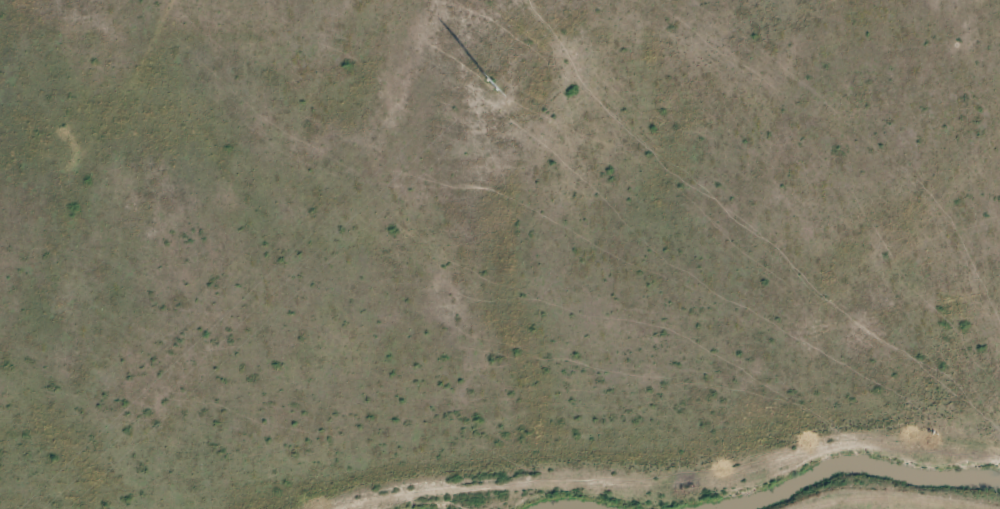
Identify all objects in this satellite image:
power tower: (496, 84)

